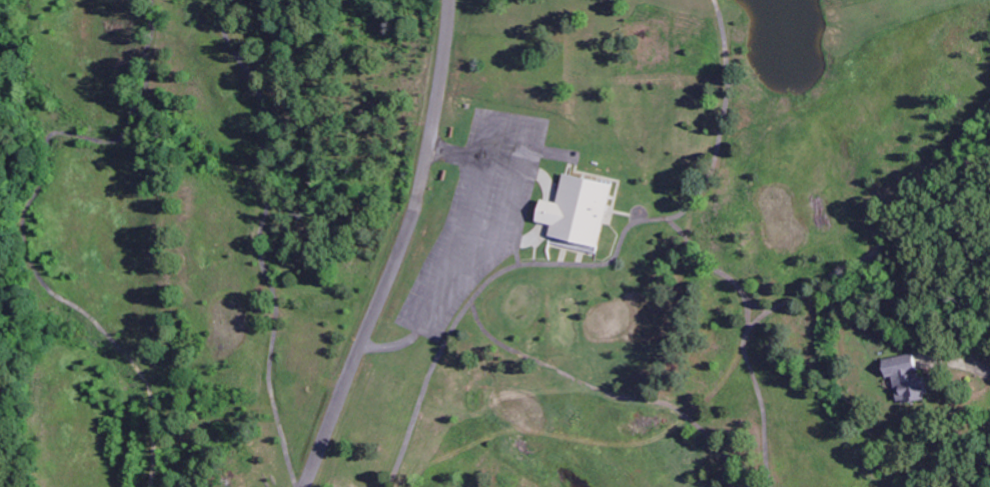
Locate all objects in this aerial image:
building: (576, 212)
road: (399, 250)
building: (905, 379)

